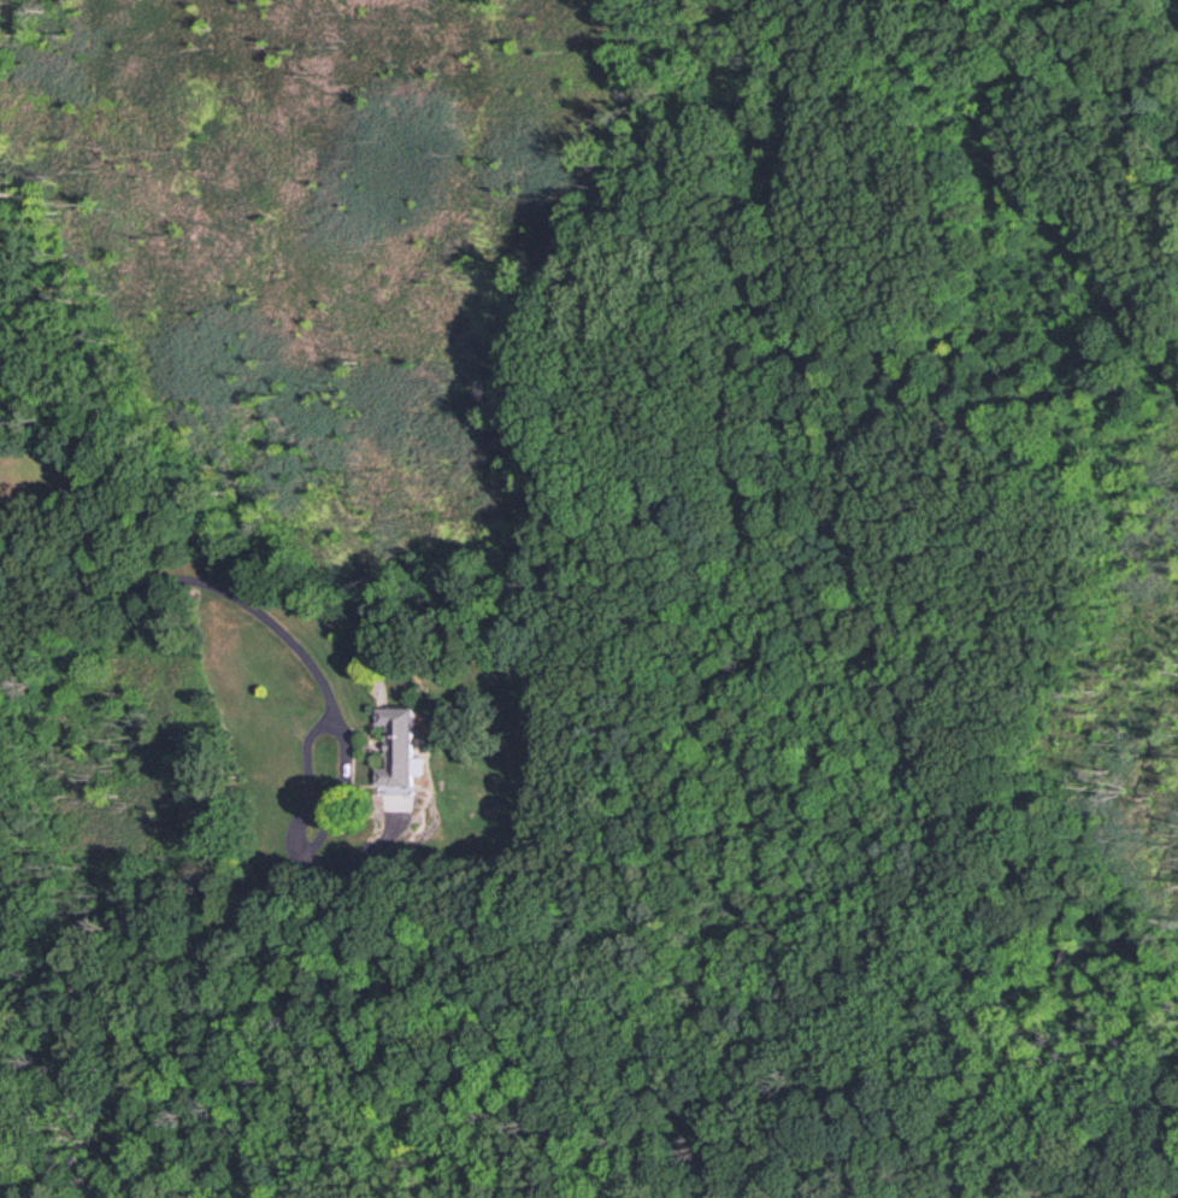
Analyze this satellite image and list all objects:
building: (397, 745)

